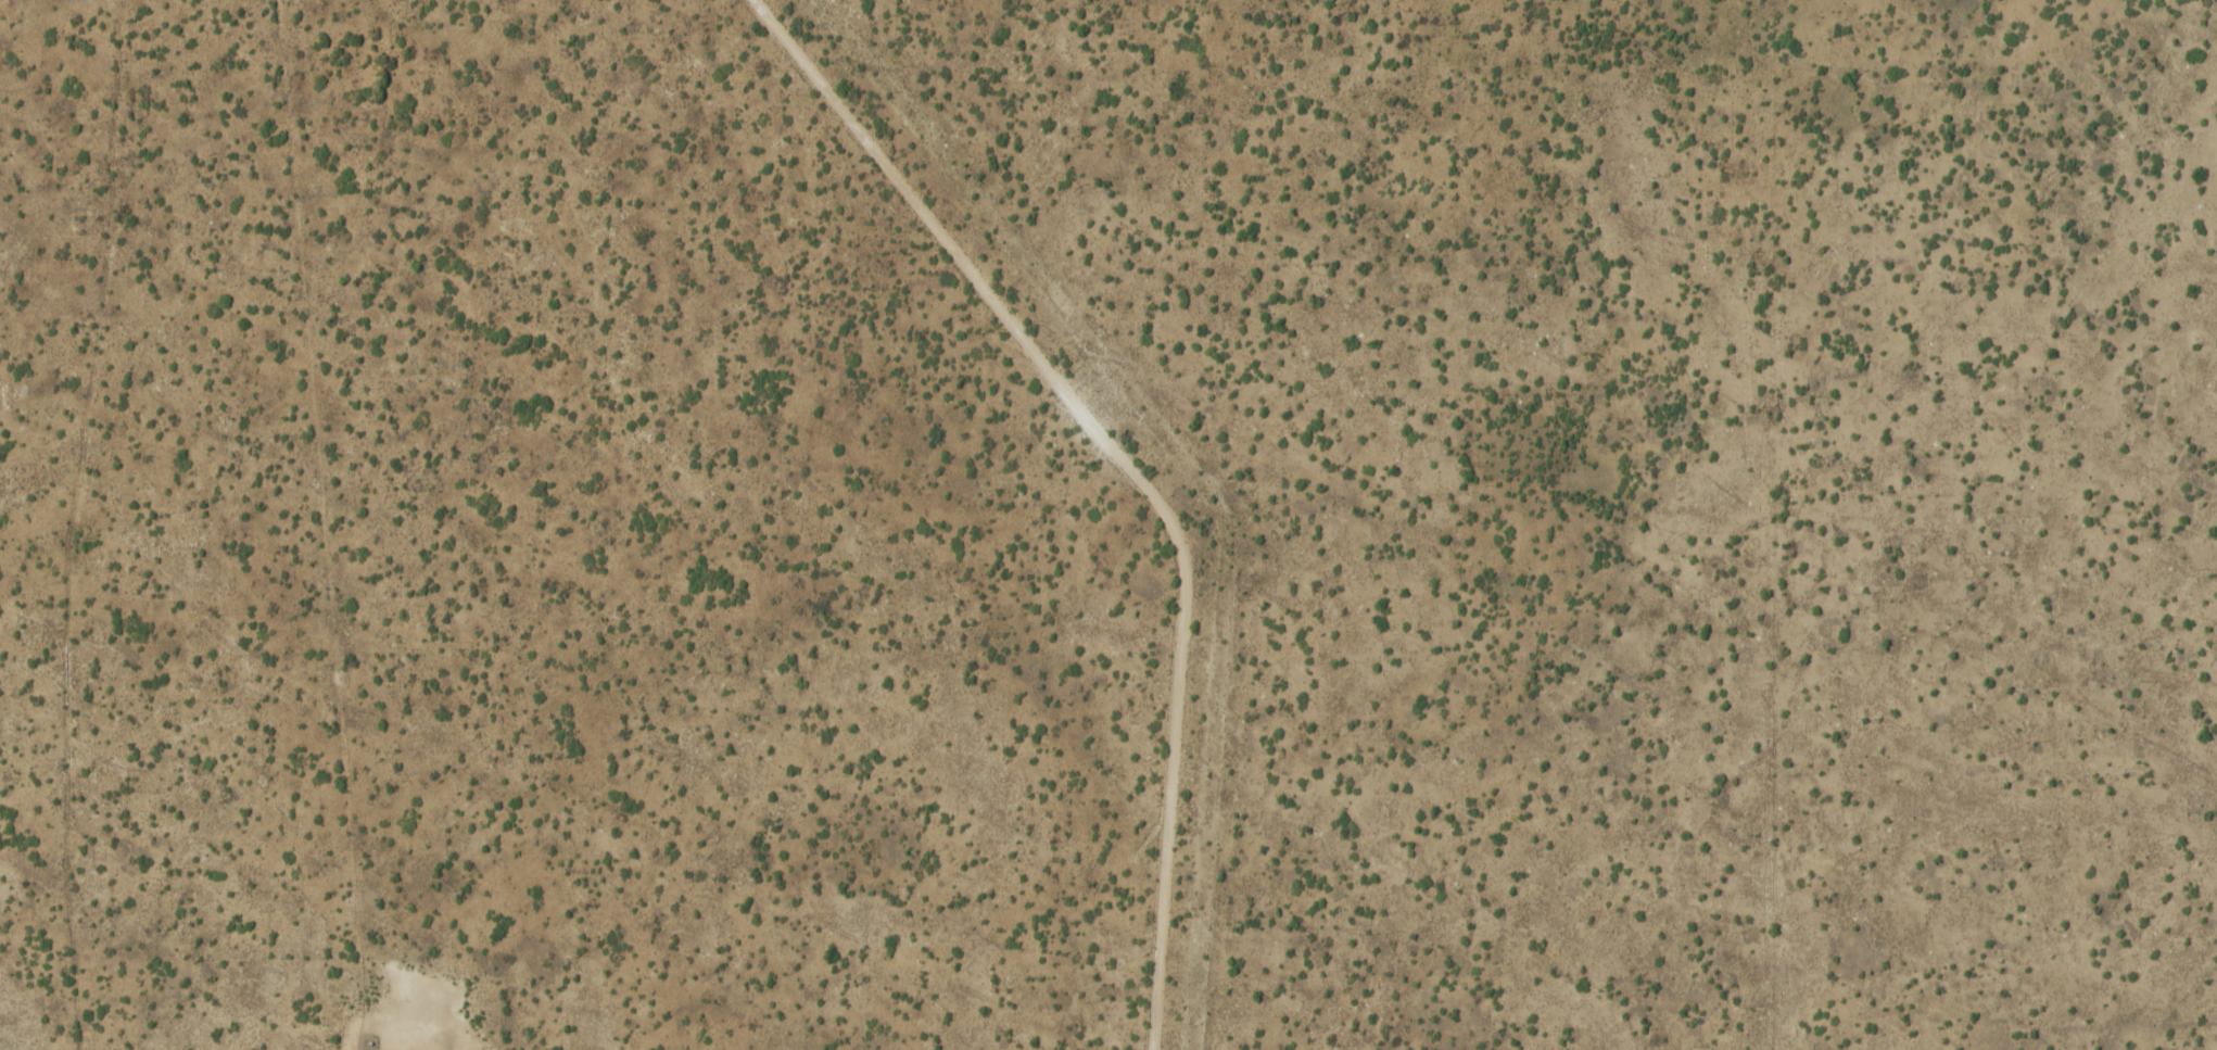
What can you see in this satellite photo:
road: (1131, 473)

